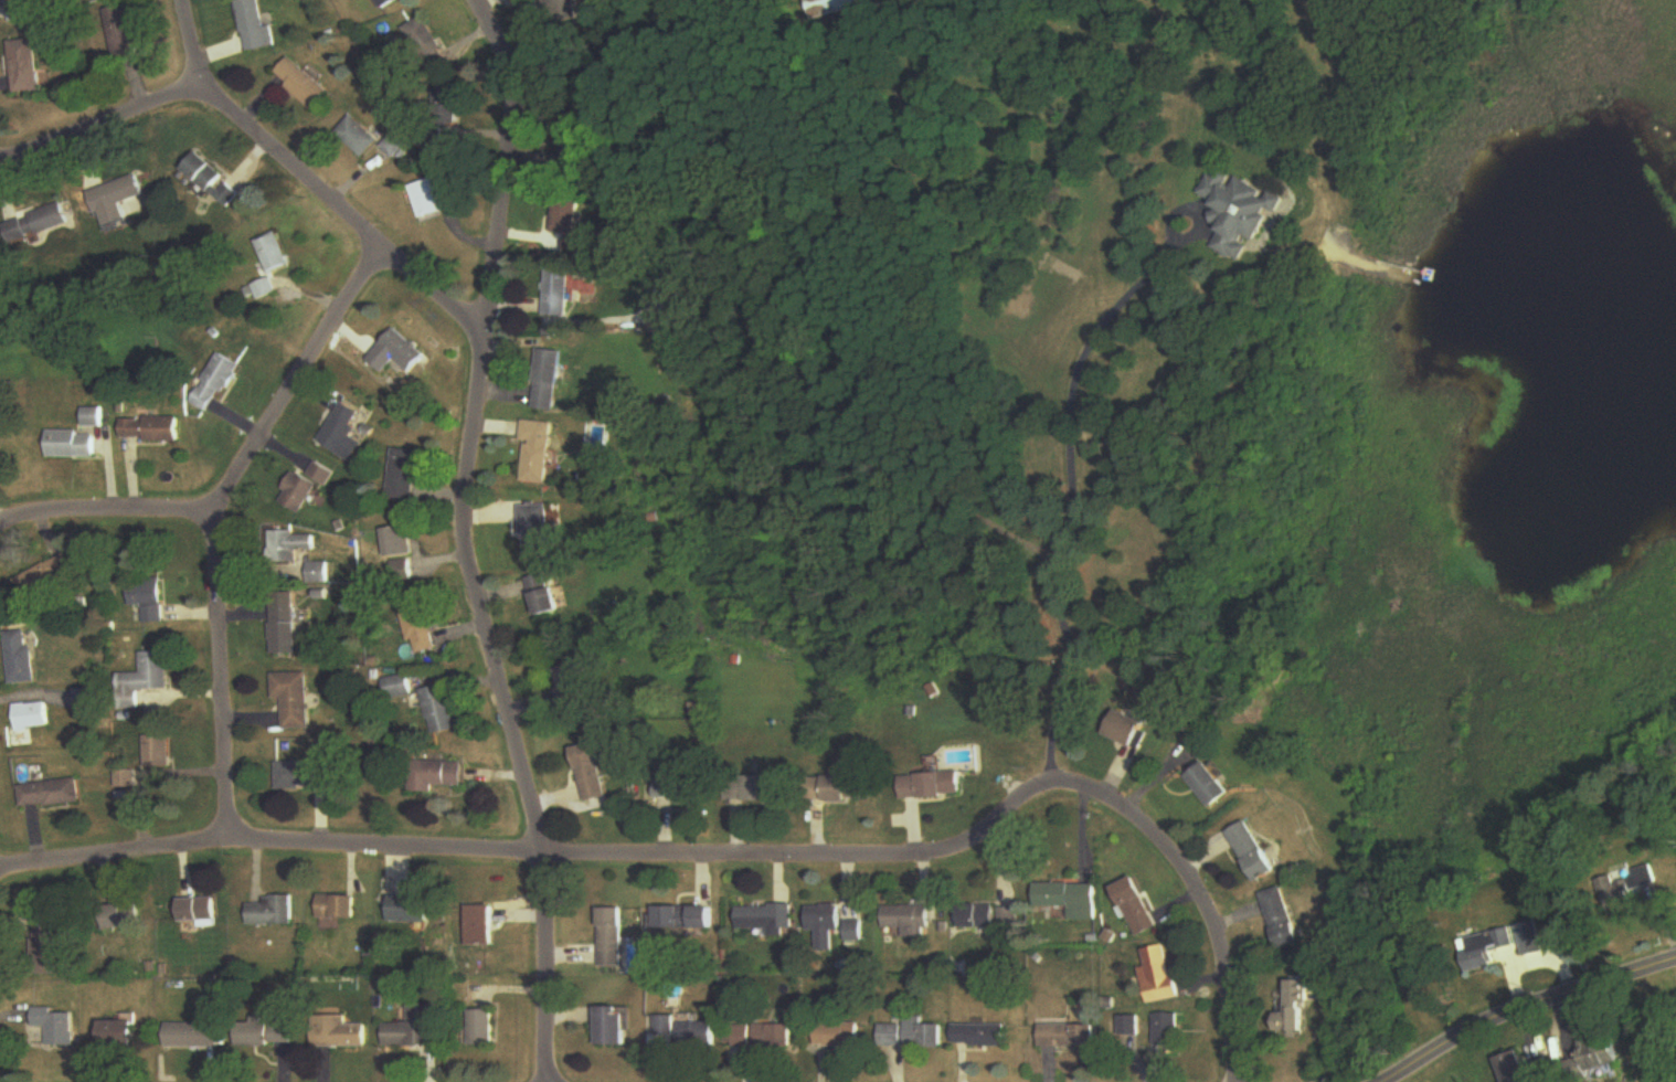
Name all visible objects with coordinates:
building: (386, 3)
building: (835, 7)
building: (563, 11)
building: (17, 12)
building: (256, 24)
building: (124, 32)
building: (424, 41)
building: (25, 66)
building: (303, 84)
building: (446, 107)
road: (97, 121)
building: (358, 137)
building: (392, 146)
building: (573, 150)
building: (212, 180)
road: (304, 183)
building: (429, 198)
building: (116, 200)
building: (1240, 212)
building: (567, 215)
building: (36, 224)
building: (274, 254)
building: (264, 289)
building: (559, 293)
building: (399, 347)
building: (548, 381)
building: (214, 384)
building: (93, 418)
building: (150, 429)
building: (342, 434)
building: (72, 445)
building: (539, 452)
building: (1, 459)
building: (402, 475)
building: (306, 488)
road: (1070, 494)
road: (106, 511)
road: (215, 520)
building: (538, 531)
road: (465, 539)
building: (395, 542)
building: (287, 545)
building: (401, 572)
building: (318, 573)
building: (46, 579)
building: (547, 596)
building: (149, 600)
building: (283, 626)
building: (420, 632)
building: (20, 661)
building: (142, 680)
building: (396, 688)
building: (574, 688)
building: (291, 699)
building: (88, 700)
building: (439, 711)
building: (31, 718)
building: (1127, 730)
building: (157, 753)
building: (592, 773)
building: (304, 776)
building: (436, 776)
building: (1209, 786)
building: (930, 787)
building: (755, 788)
building: (845, 788)
building: (678, 791)
building: (49, 795)
road: (518, 846)
building: (1254, 852)
road: (1191, 878)
building: (1632, 888)
building: (1069, 900)
building: (336, 908)
building: (1137, 908)
building: (193, 911)
building: (410, 911)
building: (269, 913)
building: (118, 916)
building: (685, 917)
building: (823, 917)
building: (987, 917)
building: (764, 919)
building: (1284, 919)
building: (906, 921)
building: (481, 926)
building: (1553, 929)
building: (851, 932)
building: (609, 937)
building: (1530, 938)
building: (44, 944)
building: (1485, 950)
building: (1160, 975)
building: (1300, 1010)
road: (1528, 1010)
building: (664, 1026)
building: (54, 1027)
building: (613, 1027)
building: (1129, 1027)
building: (418, 1029)
building: (484, 1029)
building: (1168, 1031)
building: (117, 1035)
building: (264, 1035)
building: (697, 1035)
building: (192, 1036)
building: (341, 1036)
building: (837, 1036)
building: (911, 1036)
building: (979, 1036)
building: (762, 1037)
building: (1068, 1037)
building: (1597, 1057)
building: (1523, 1070)

